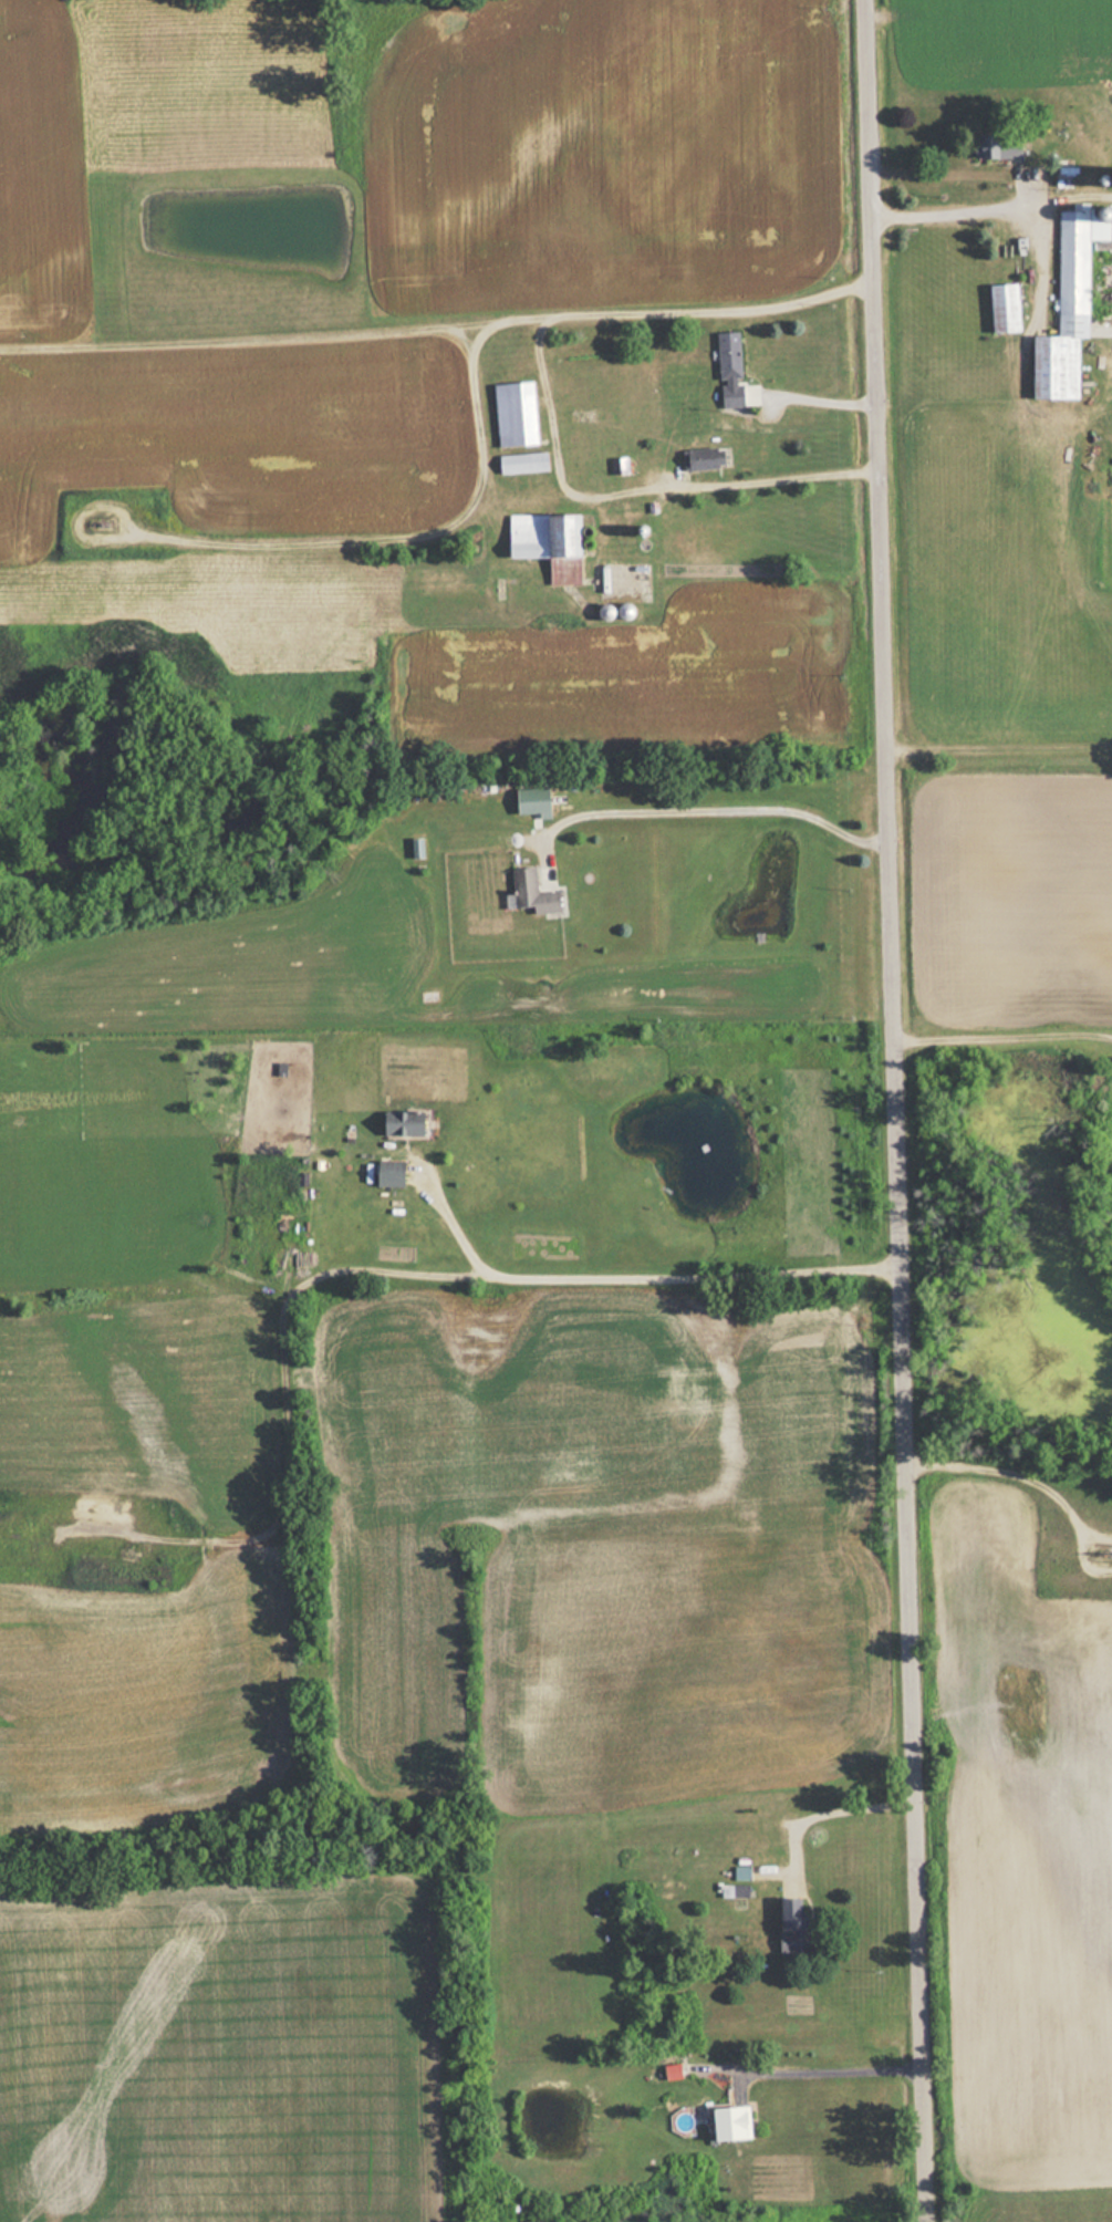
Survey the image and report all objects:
building: (996, 146)
building: (1083, 176)
building: (1069, 292)
building: (1001, 307)
road: (439, 325)
building: (728, 368)
building: (512, 413)
building: (702, 457)
building: (520, 463)
petroleum well: (98, 520)
building: (539, 534)
road: (396, 541)
building: (529, 800)
building: (531, 893)
road: (900, 1111)
building: (396, 1122)
building: (383, 1173)
road: (386, 1268)
road: (1009, 1476)
petroleum well: (1102, 1555)
building: (740, 1872)
building: (732, 1889)
building: (789, 1925)
building: (726, 2121)

